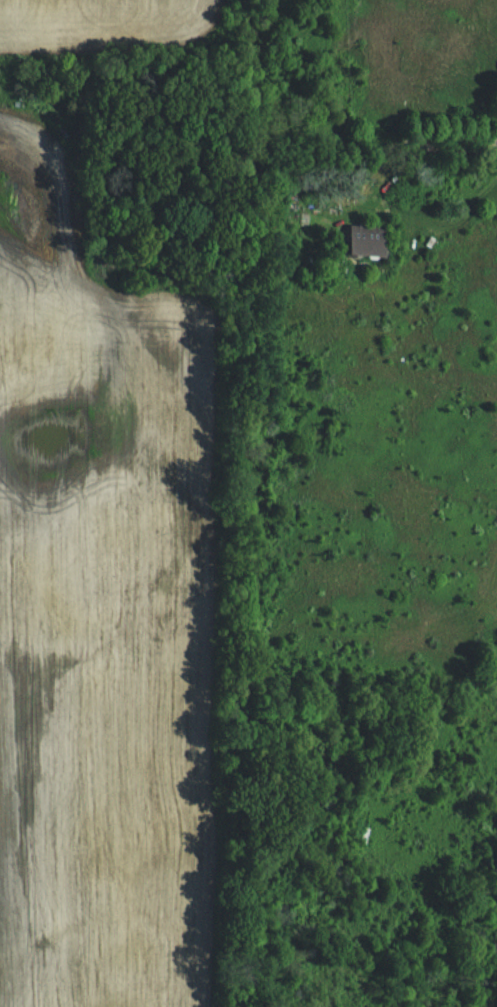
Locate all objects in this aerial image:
building: (372, 240)

